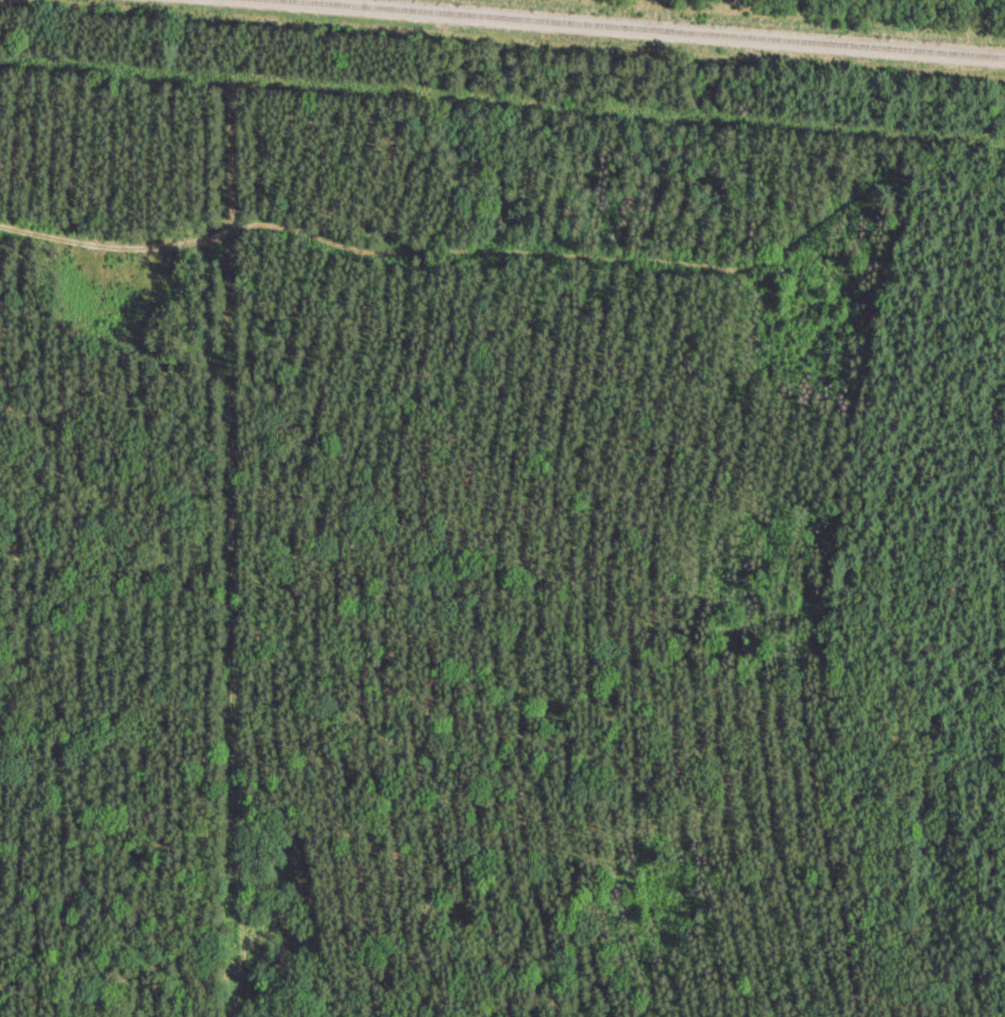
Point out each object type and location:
railway: (627, 29)

